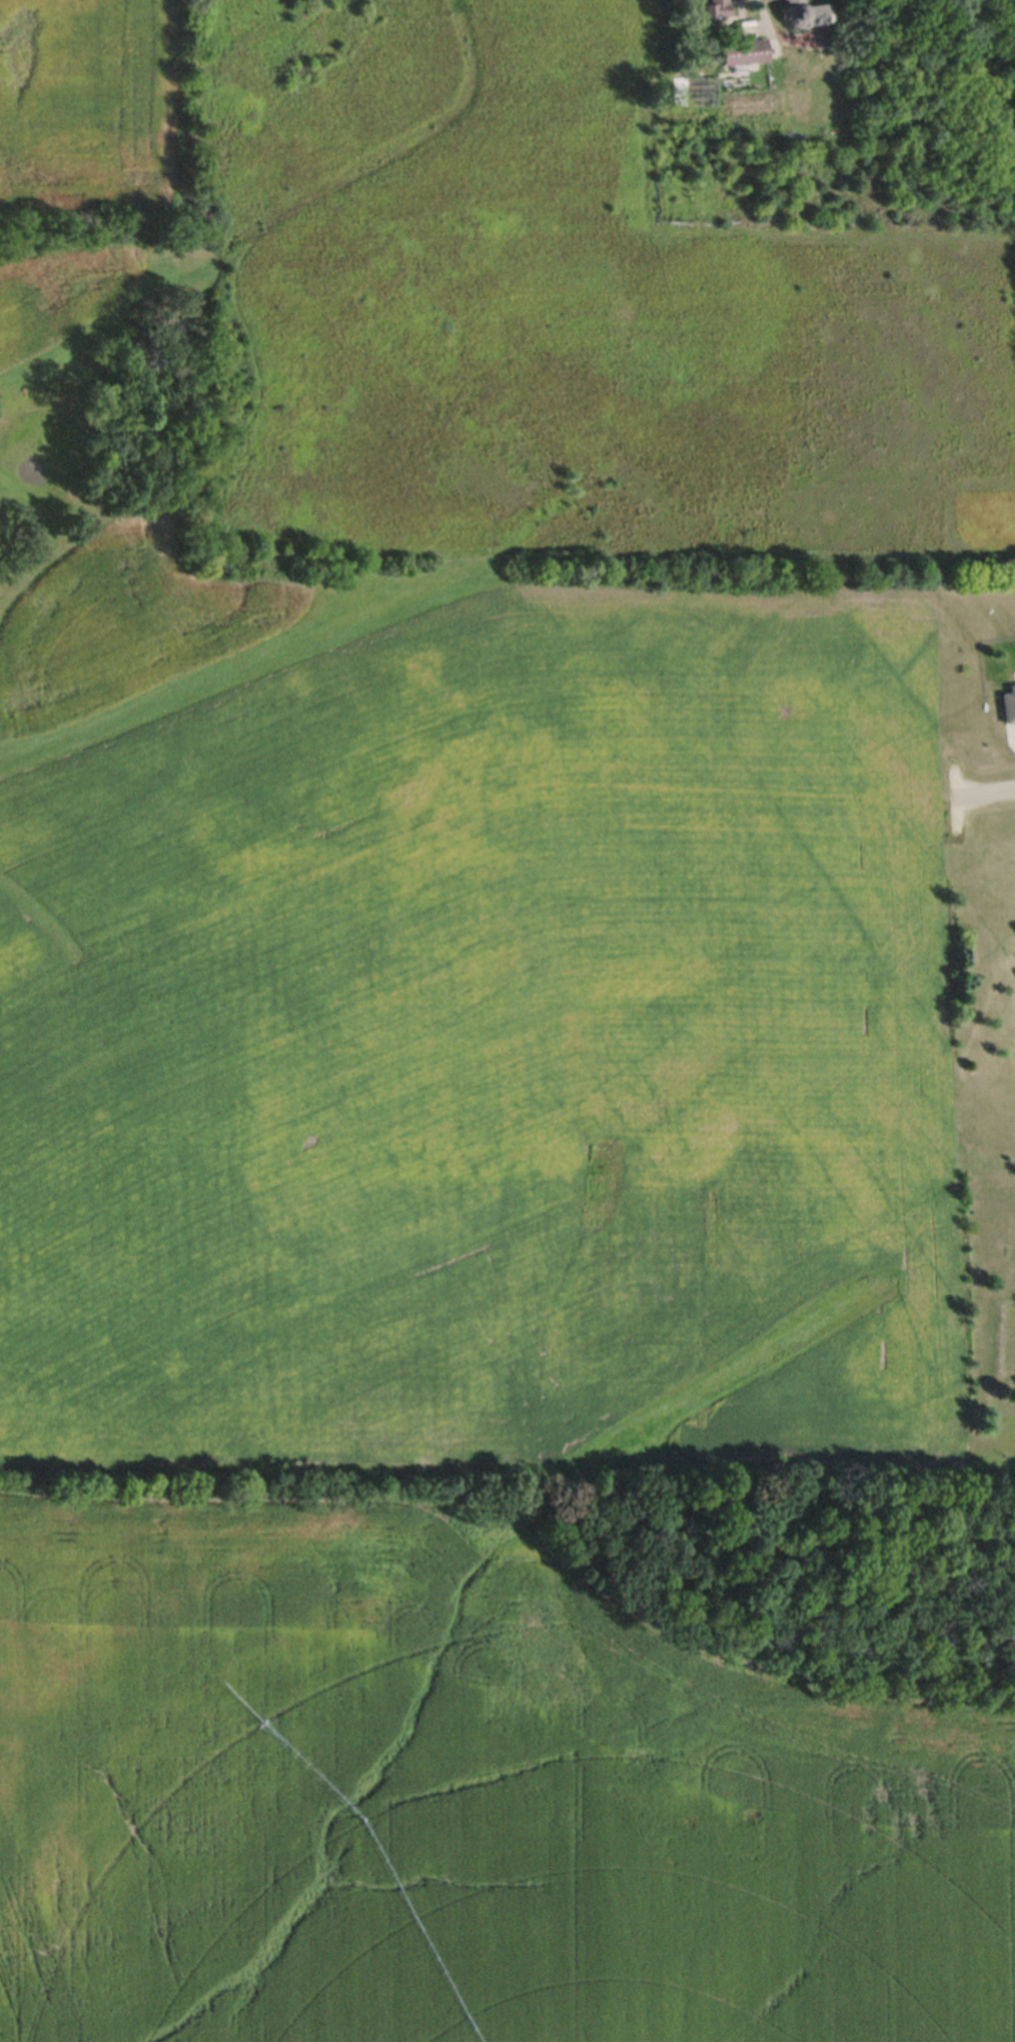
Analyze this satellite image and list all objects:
building: (714, 10)
road: (762, 15)
building: (799, 35)
building: (743, 51)
building: (808, 119)
building: (1009, 703)
road: (983, 790)

